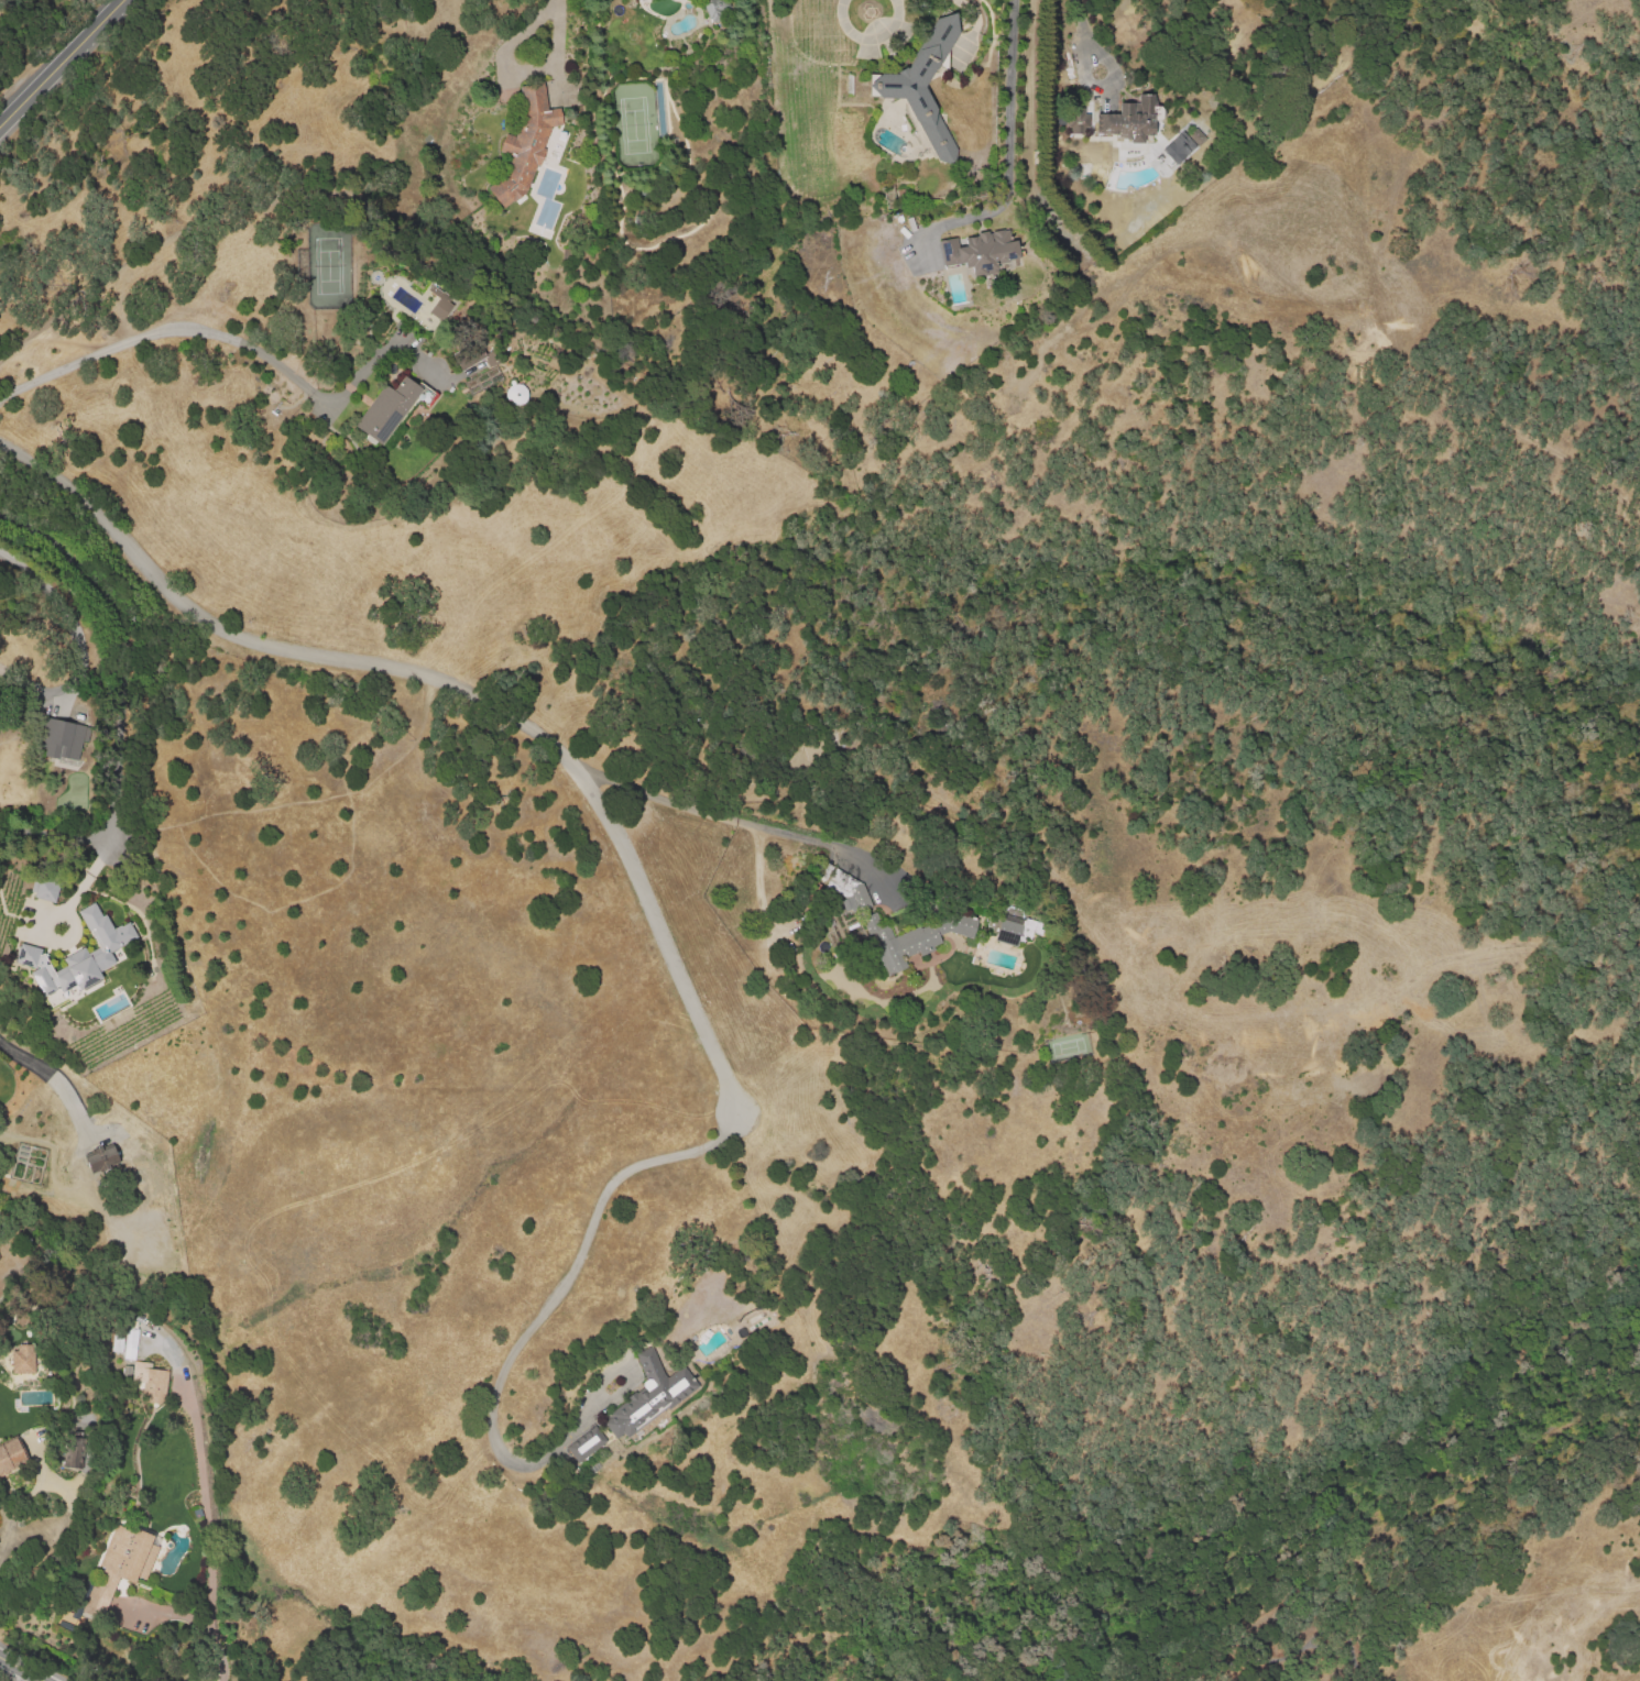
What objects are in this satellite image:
building: (641, 0)
building: (652, 0)
road: (970, 9)
building: (715, 10)
road: (1086, 34)
road: (870, 39)
road: (559, 40)
road: (61, 64)
building: (925, 87)
road: (1008, 120)
building: (1134, 121)
building: (849, 123)
building: (1078, 123)
building: (524, 143)
building: (1177, 147)
building: (852, 153)
building: (988, 253)
building: (439, 304)
road: (168, 328)
building: (515, 393)
building: (391, 410)
road: (272, 651)
road: (99, 678)
road: (56, 690)
building: (58, 739)
building: (810, 750)
road: (743, 822)
road: (58, 823)
building: (841, 885)
building: (45, 890)
road: (83, 901)
building: (1017, 932)
building: (921, 938)
road: (664, 945)
building: (77, 955)
road: (63, 1090)
building: (101, 1157)
road: (535, 1321)
building: (117, 1344)
building: (130, 1345)
building: (24, 1361)
building: (81, 1366)
building: (150, 1383)
building: (646, 1395)
building: (584, 1447)
building: (73, 1450)
building: (12, 1458)
road: (65, 1493)
road: (206, 1514)
road: (1, 1539)
building: (120, 1568)
building: (146, 1611)
road: (22, 1668)

